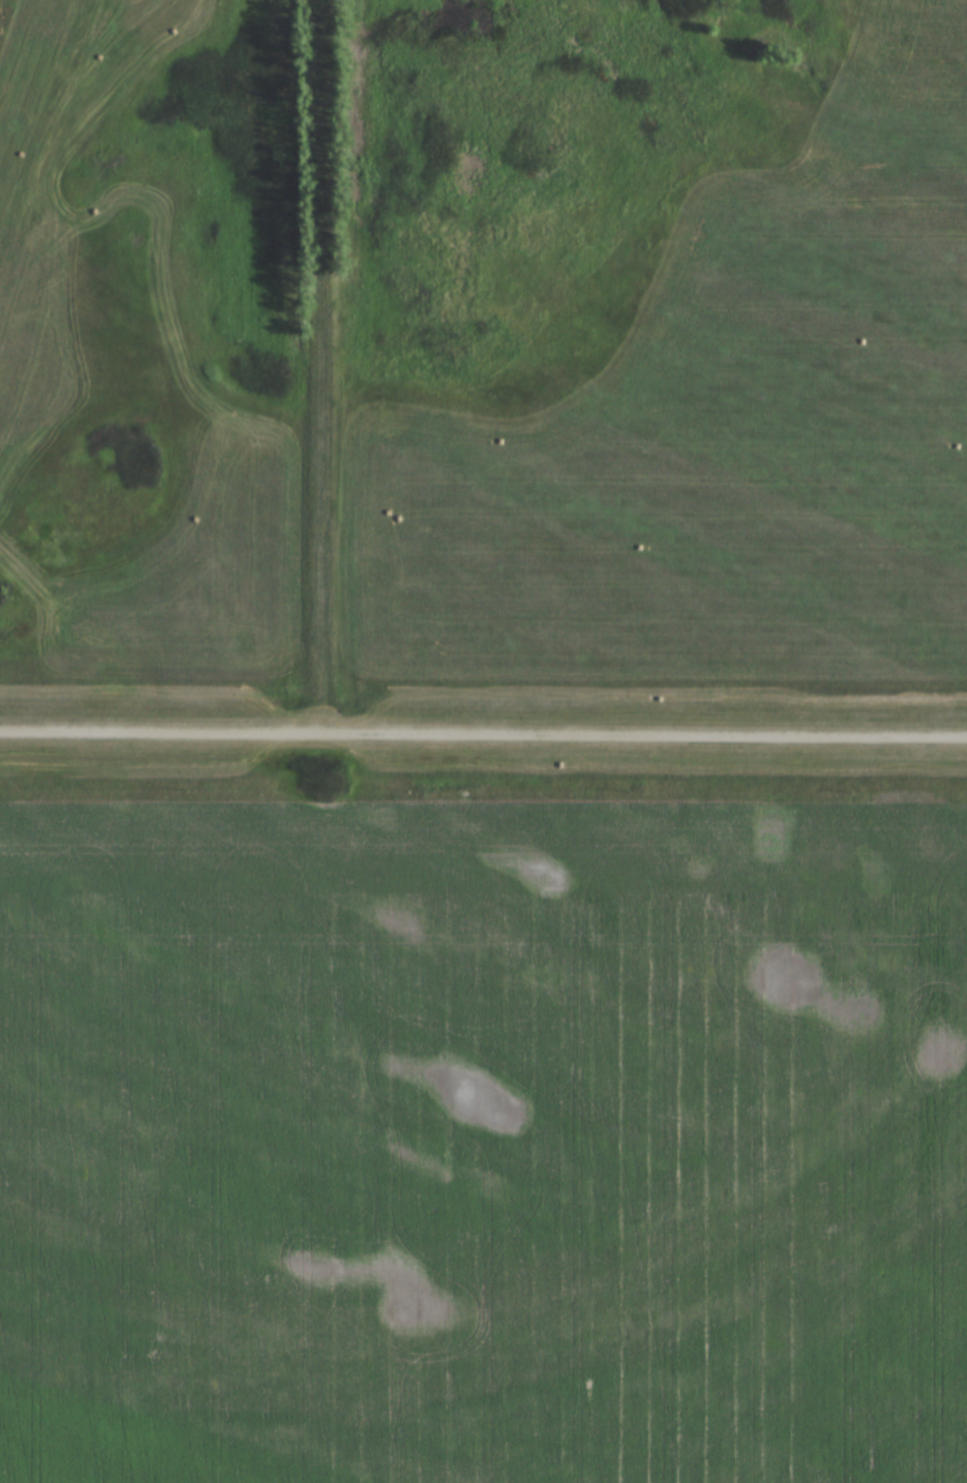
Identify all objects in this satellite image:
road: (324, 364)
road: (483, 729)

